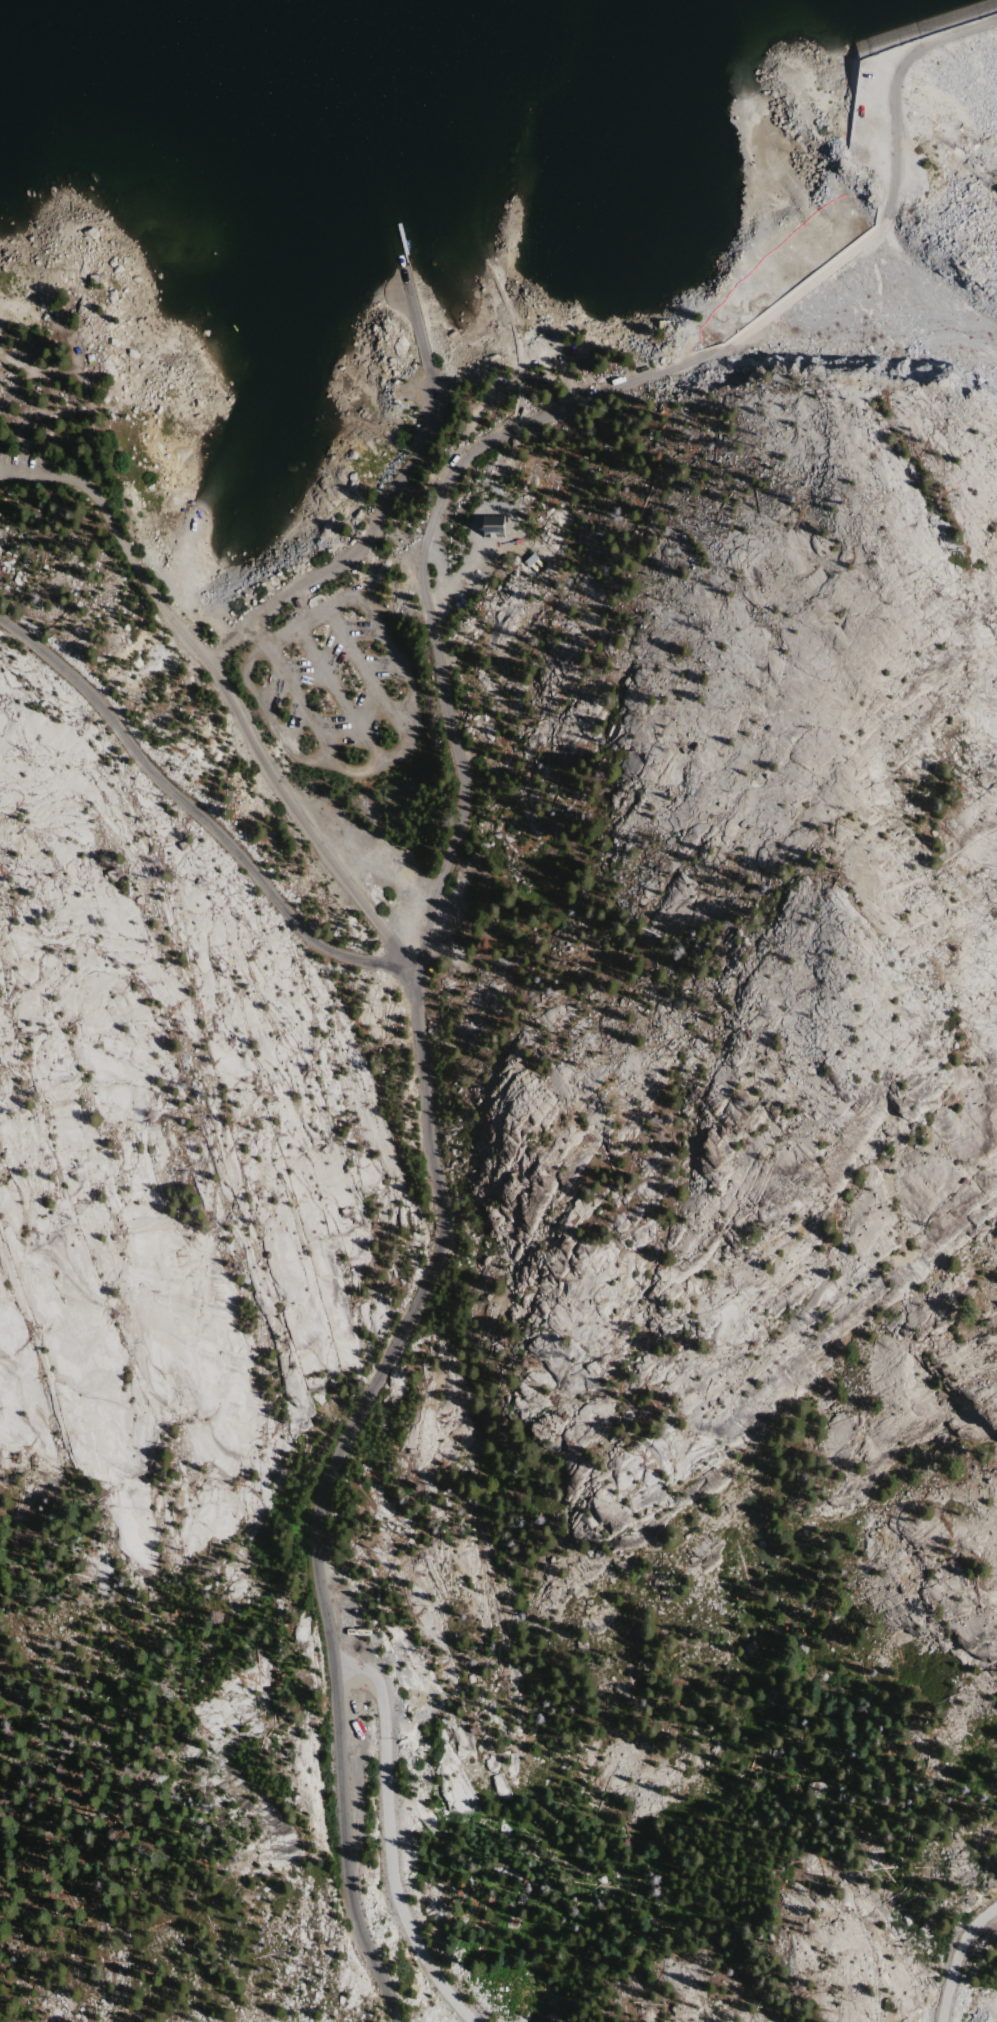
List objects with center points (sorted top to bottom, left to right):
dam: (960, 68)
dam: (852, 88)
road: (891, 98)
road: (877, 112)
parking lot: (870, 114)
parking lot: (907, 169)
road: (426, 347)
road: (433, 399)
parking lot: (25, 464)
road: (448, 492)
road: (120, 546)
road: (220, 648)
road: (364, 671)
parking lot: (335, 685)
road: (335, 694)
road: (294, 706)
road: (398, 749)
road: (189, 808)
road: (327, 1479)
road: (385, 1842)
road: (961, 1961)

